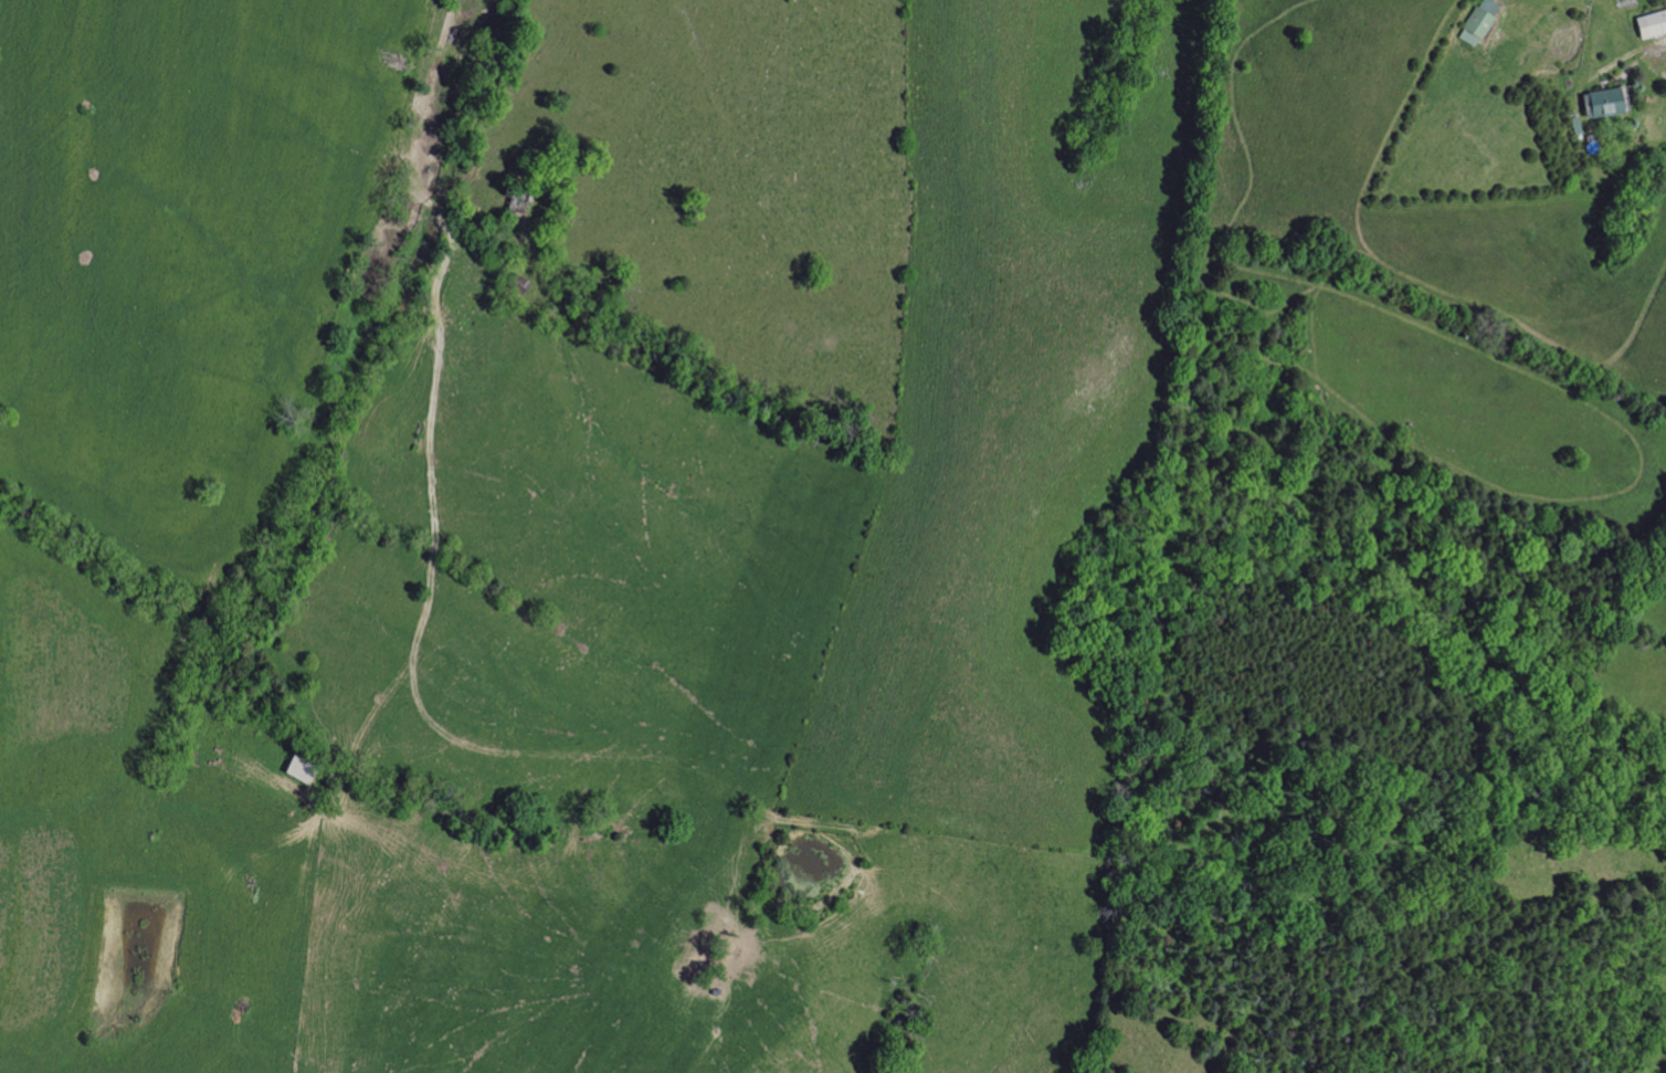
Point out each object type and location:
building: (1477, 21)
road: (446, 22)
building: (1649, 24)
road: (1662, 46)
building: (1598, 102)

